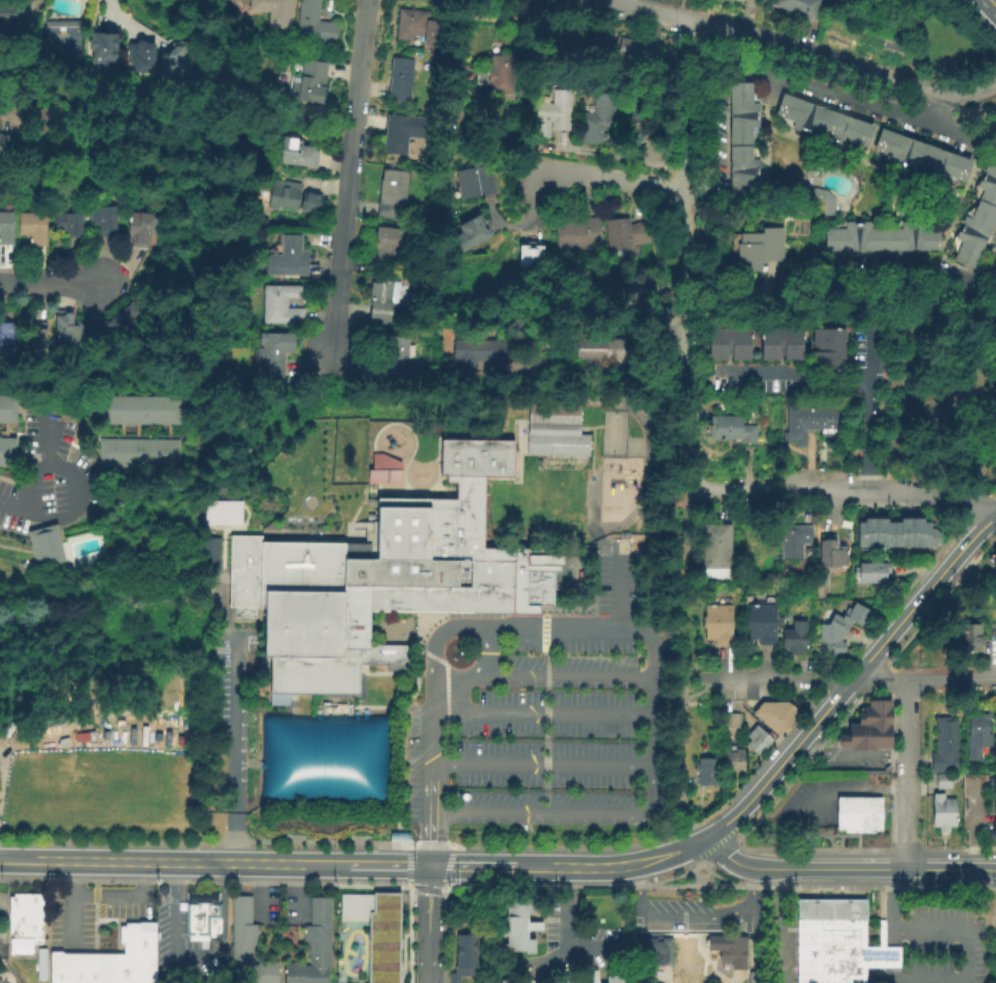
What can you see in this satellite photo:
road: (995, 0)
building: (740, 1)
road: (32, 6)
building: (798, 8)
building: (273, 12)
building: (9, 14)
road: (127, 25)
building: (312, 25)
building: (412, 26)
building: (60, 39)
park: (59, 41)
road: (456, 42)
road: (796, 45)
building: (571, 47)
building: (102, 51)
building: (636, 53)
building: (140, 58)
building: (175, 63)
road: (0, 76)
building: (497, 76)
road: (995, 77)
road: (995, 78)
building: (399, 81)
road: (787, 82)
building: (308, 85)
road: (688, 106)
road: (933, 108)
road: (25, 109)
building: (551, 116)
building: (643, 118)
building: (596, 120)
building: (823, 124)
building: (401, 133)
building: (741, 139)
building: (4, 146)
building: (295, 155)
road: (602, 157)
building: (922, 158)
road: (349, 176)
road: (609, 179)
building: (472, 184)
building: (391, 194)
building: (284, 196)
building: (311, 201)
building: (102, 221)
building: (977, 221)
building: (67, 224)
building: (32, 229)
building: (5, 230)
building: (140, 230)
building: (470, 236)
building: (577, 236)
building: (624, 237)
building: (882, 239)
building: (388, 246)
building: (758, 251)
building: (529, 257)
building: (286, 259)
road: (915, 274)
road: (50, 283)
building: (638, 298)
road: (744, 298)
building: (383, 300)
building: (280, 307)
building: (110, 326)
building: (67, 331)
building: (6, 340)
building: (32, 340)
road: (686, 341)
building: (779, 344)
building: (729, 345)
building: (594, 348)
building: (827, 351)
building: (271, 356)
building: (395, 356)
building: (477, 356)
road: (777, 373)
road: (588, 384)
building: (7, 410)
building: (137, 410)
road: (866, 410)
building: (822, 420)
building: (795, 426)
building: (554, 430)
building: (732, 430)
park: (611, 433)
road: (47, 443)
building: (136, 453)
building: (7, 454)
building: (387, 470)
road: (67, 471)
road: (755, 491)
road: (909, 491)
road: (18, 507)
building: (220, 512)
building: (468, 535)
building: (866, 536)
building: (884, 536)
building: (903, 536)
building: (925, 537)
building: (793, 541)
building: (44, 548)
building: (716, 553)
building: (208, 554)
building: (831, 556)
building: (995, 564)
building: (870, 575)
road: (618, 593)
road: (920, 593)
building: (333, 609)
building: (782, 623)
building: (760, 625)
building: (717, 626)
building: (837, 627)
road: (469, 628)
road: (548, 628)
road: (673, 631)
building: (966, 639)
building: (794, 640)
building: (829, 647)
road: (992, 653)
road: (564, 679)
road: (688, 680)
road: (849, 680)
road: (650, 685)
building: (876, 714)
road: (543, 715)
building: (776, 717)
road: (434, 721)
building: (730, 722)
parking lot: (559, 724)
road: (902, 729)
building: (866, 738)
building: (977, 739)
building: (757, 741)
building: (943, 747)
road: (230, 748)
road: (844, 755)
building: (326, 759)
road: (782, 760)
building: (734, 763)
road: (541, 766)
building: (705, 772)
building: (942, 783)
building: (994, 788)
road: (813, 793)
building: (860, 801)
road: (685, 809)
building: (838, 811)
road: (430, 814)
road: (562, 815)
building: (942, 815)
building: (850, 819)
building: (868, 819)
road: (902, 822)
road: (971, 825)
building: (994, 833)
road: (672, 851)
road: (23, 858)
road: (193, 860)
road: (385, 862)
traffic signals: (429, 863)
road: (470, 864)
road: (574, 864)
road: (845, 867)
road: (39, 872)
road: (121, 894)
road: (69, 903)
road: (888, 907)
building: (201, 916)
building: (24, 917)
road: (687, 919)
road: (427, 922)
building: (517, 923)
road: (775, 925)
road: (565, 927)
building: (376, 932)
building: (836, 943)
building: (246, 946)
building: (312, 947)
building: (728, 948)
road: (583, 949)
building: (137, 952)
building: (655, 953)
road: (889, 958)
road: (196, 959)
building: (463, 959)
road: (963, 960)
building: (40, 965)
building: (59, 968)
building: (77, 968)
building: (103, 968)
building: (751, 976)
building: (593, 978)
building: (613, 979)
building: (504, 981)
building: (573, 981)

